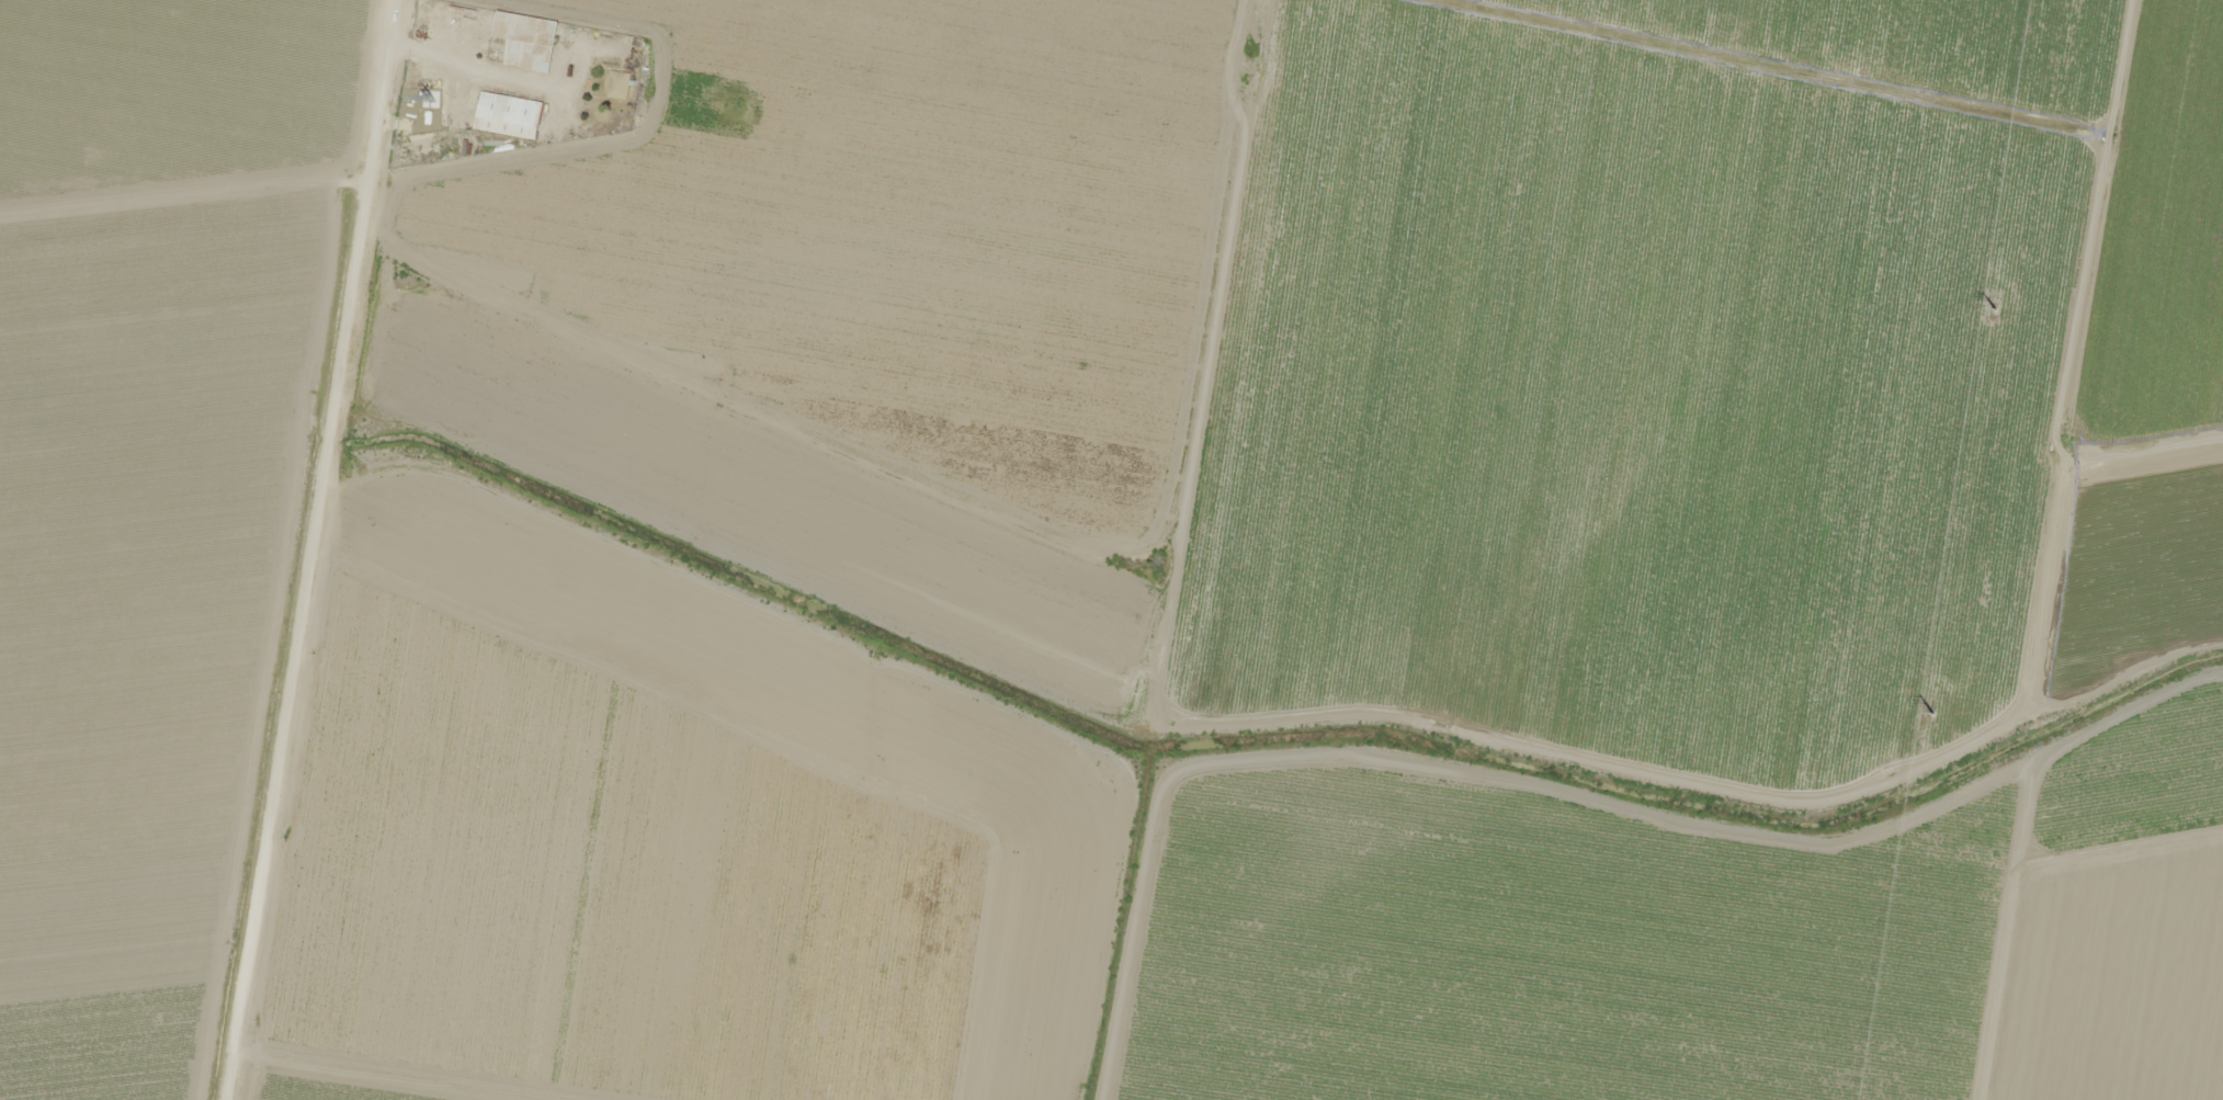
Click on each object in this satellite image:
building: (522, 41)
building: (617, 84)
building: (509, 114)
power tower: (1995, 308)
road: (317, 549)
power tower: (1932, 714)
road: (379, 1084)

